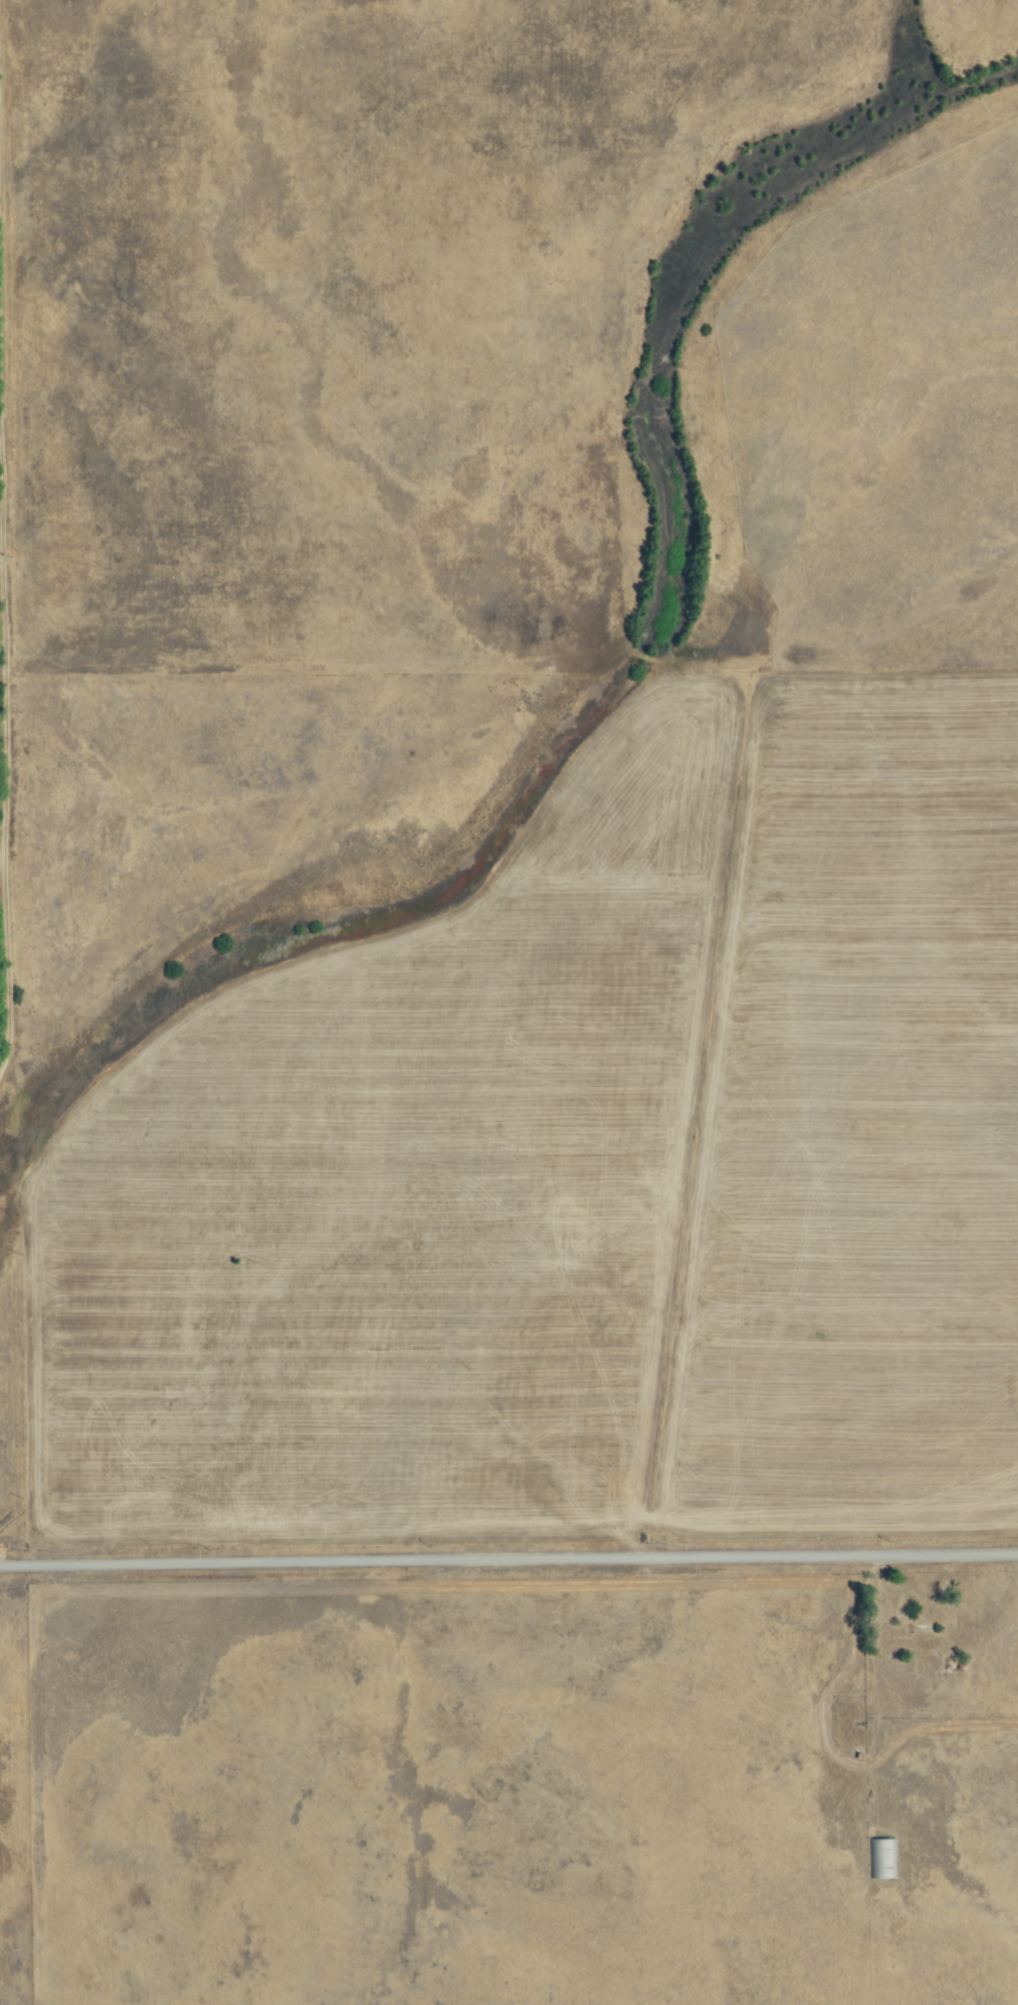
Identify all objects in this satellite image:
road: (509, 1559)

